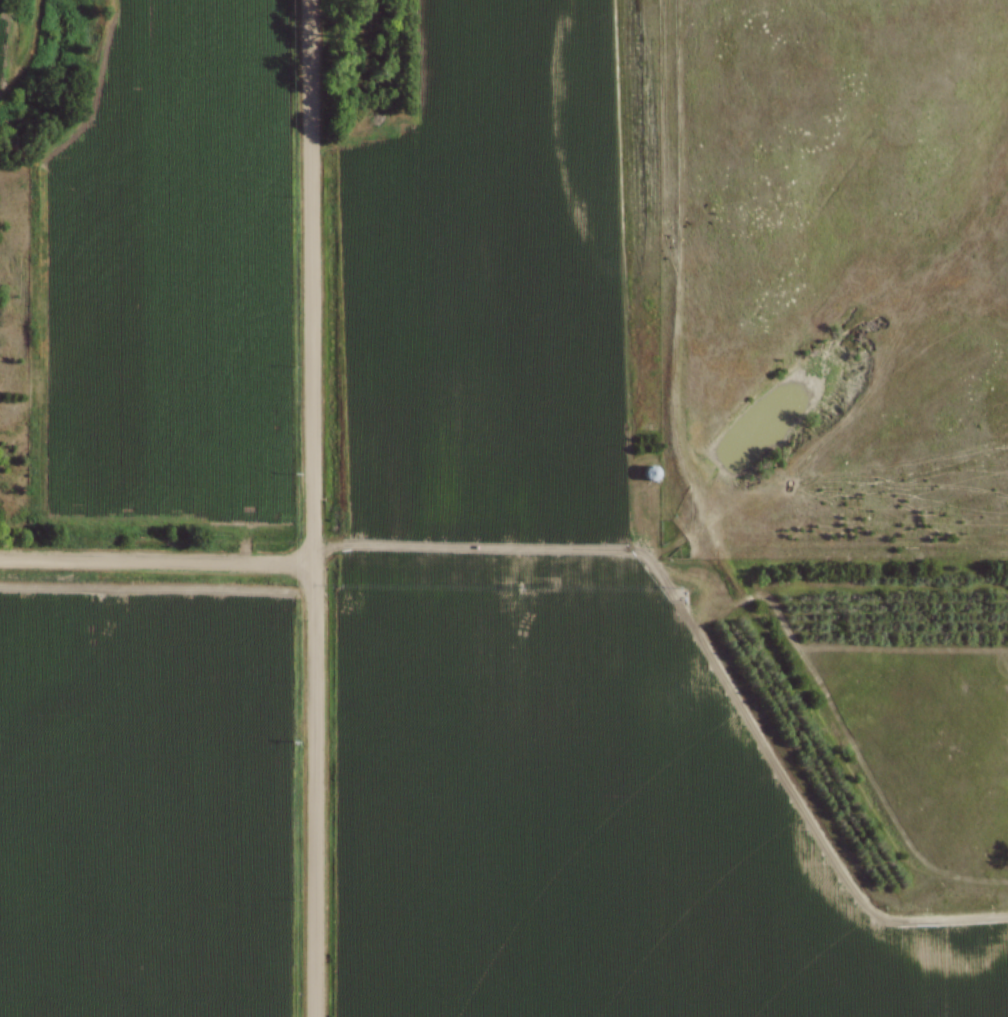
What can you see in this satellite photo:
road: (313, 282)
silo: (649, 473)
building: (649, 475)
road: (156, 561)
crop: (545, 607)
road: (315, 790)
crop: (144, 800)

